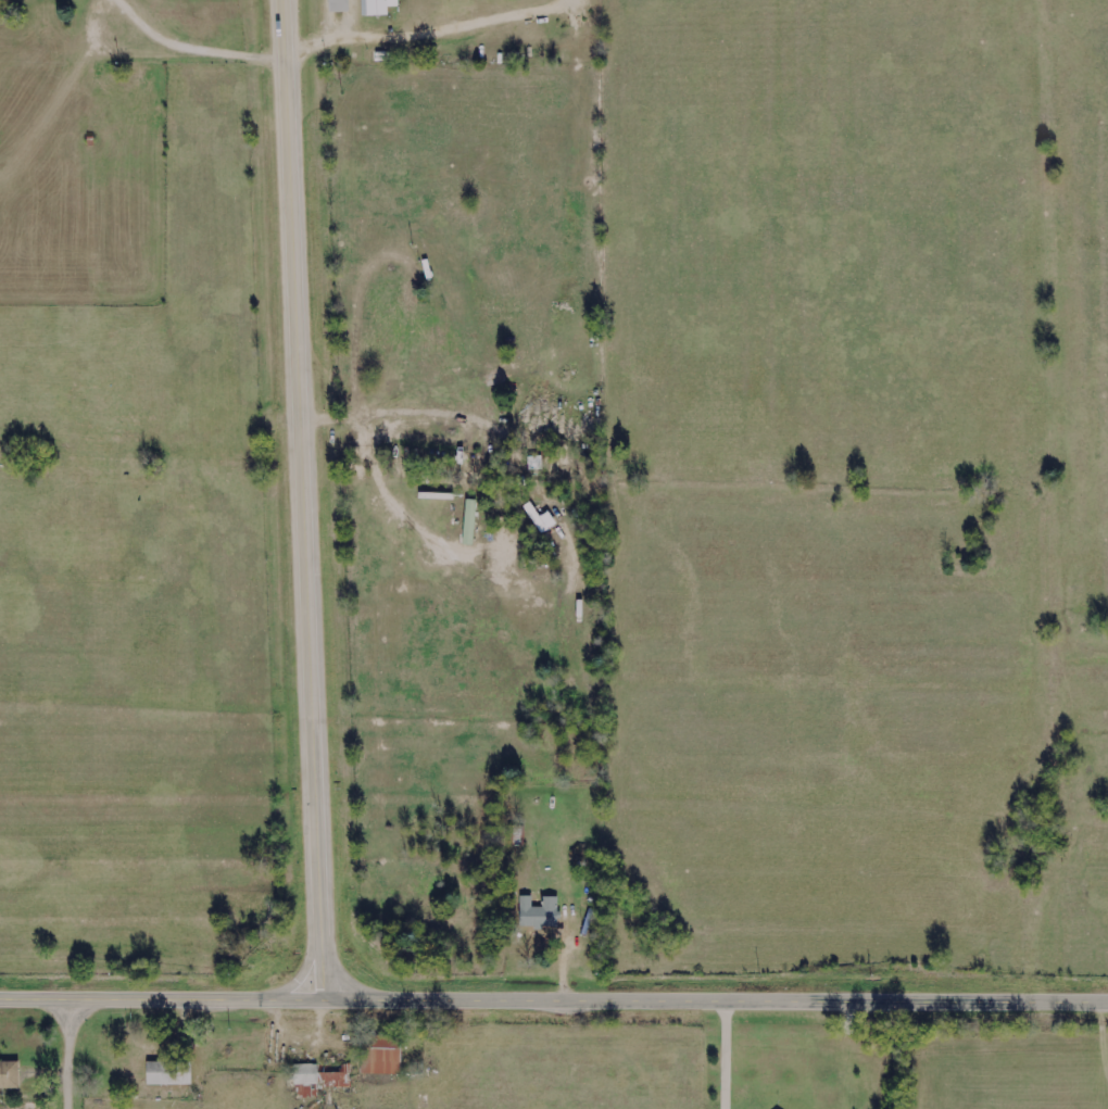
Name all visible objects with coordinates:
building: (339, 7)
building: (377, 8)
building: (100, 75)
building: (534, 462)
road: (304, 501)
building: (469, 521)
building: (540, 911)
road: (553, 1000)
road: (72, 1055)
building: (382, 1056)
building: (168, 1073)
building: (9, 1075)
building: (319, 1078)

